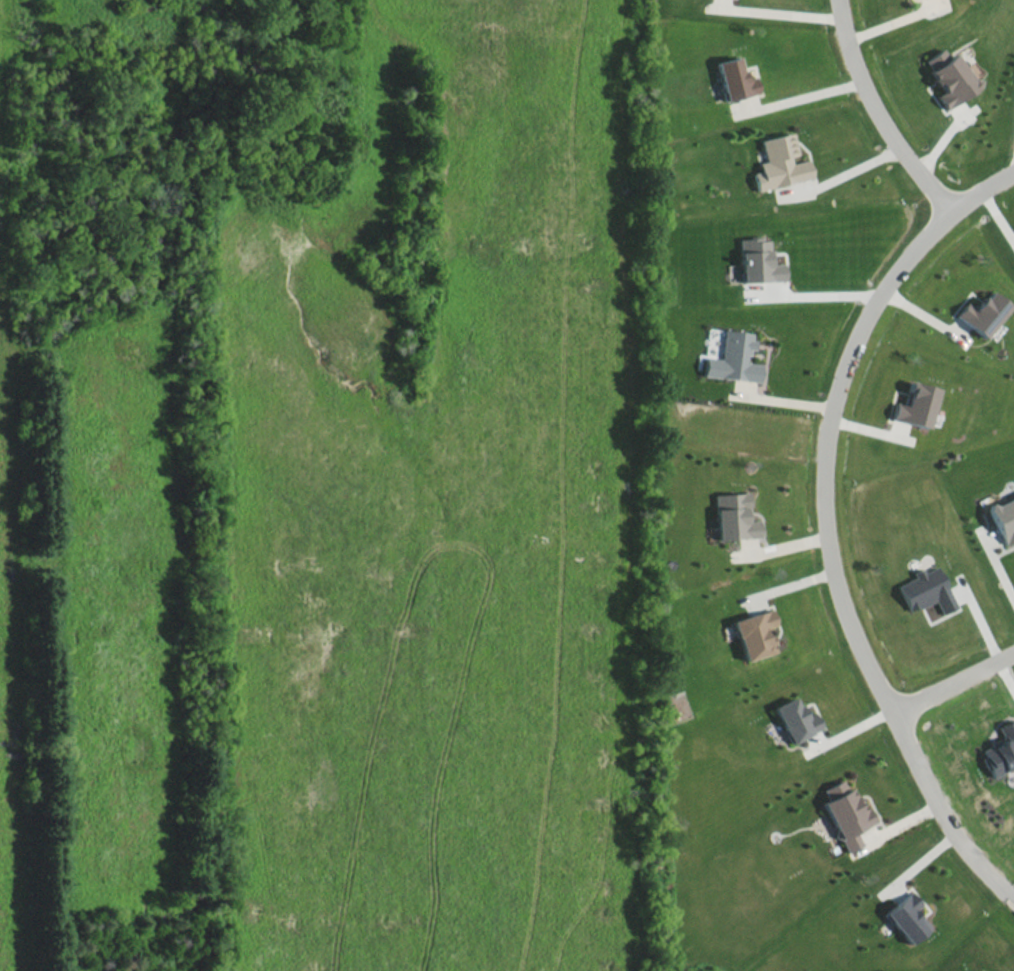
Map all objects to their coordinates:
road: (782, 10)
building: (948, 76)
building: (734, 78)
road: (805, 94)
road: (880, 108)
building: (779, 163)
road: (854, 171)
building: (757, 260)
road: (817, 290)
building: (982, 313)
road: (921, 314)
building: (732, 357)
road: (416, 403)
building: (915, 404)
building: (732, 516)
road: (825, 517)
building: (1003, 518)
road: (1003, 561)
building: (924, 590)
building: (752, 633)
road: (464, 686)
road: (957, 695)
building: (794, 719)
building: (1000, 750)
road: (232, 779)
building: (845, 814)
building: (906, 917)

